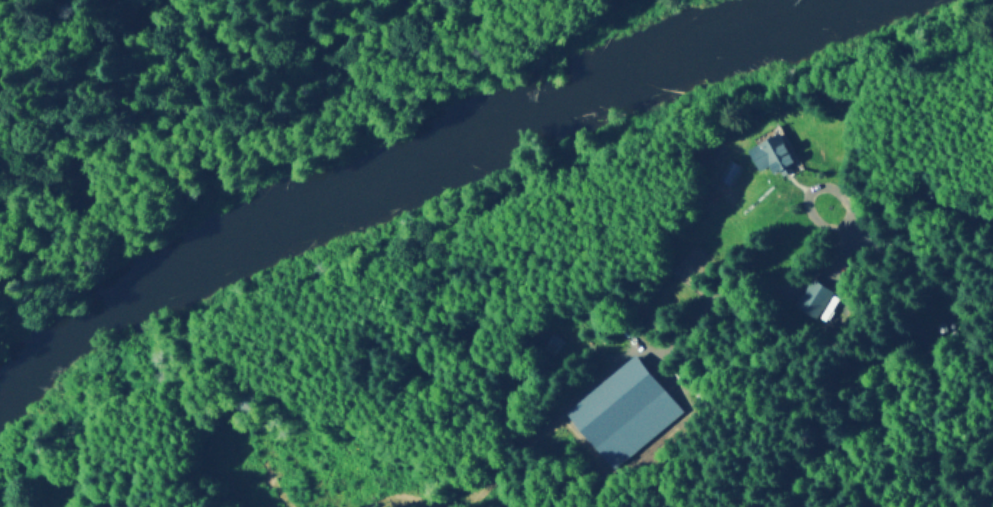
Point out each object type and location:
road: (45, 47)
building: (772, 152)
river: (405, 176)
building: (815, 297)
building: (555, 343)
building: (625, 410)
road: (906, 457)

